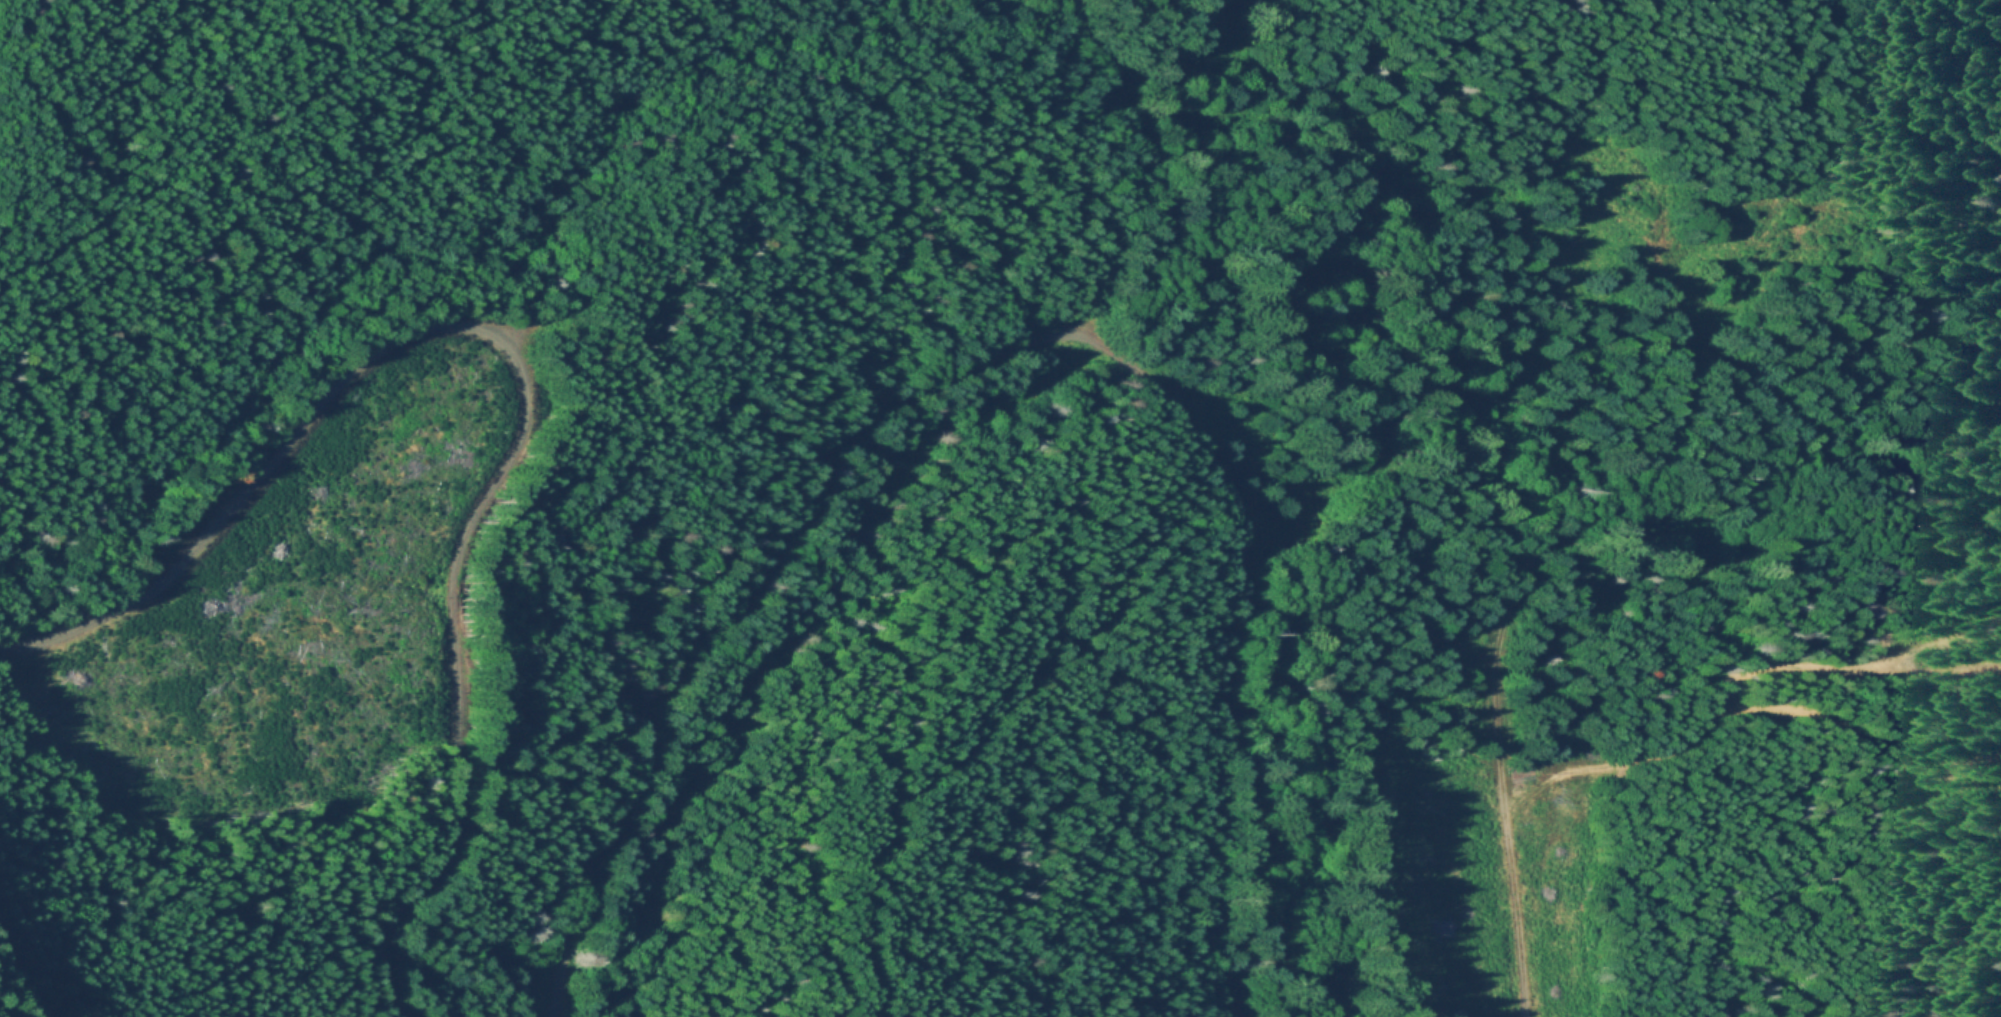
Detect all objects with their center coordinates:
road: (1115, 174)
road: (1818, 355)
road: (527, 378)
road: (1512, 601)
road: (733, 608)
road: (1230, 639)
road: (1834, 664)
road: (1758, 709)
road: (989, 715)
road: (20, 974)

